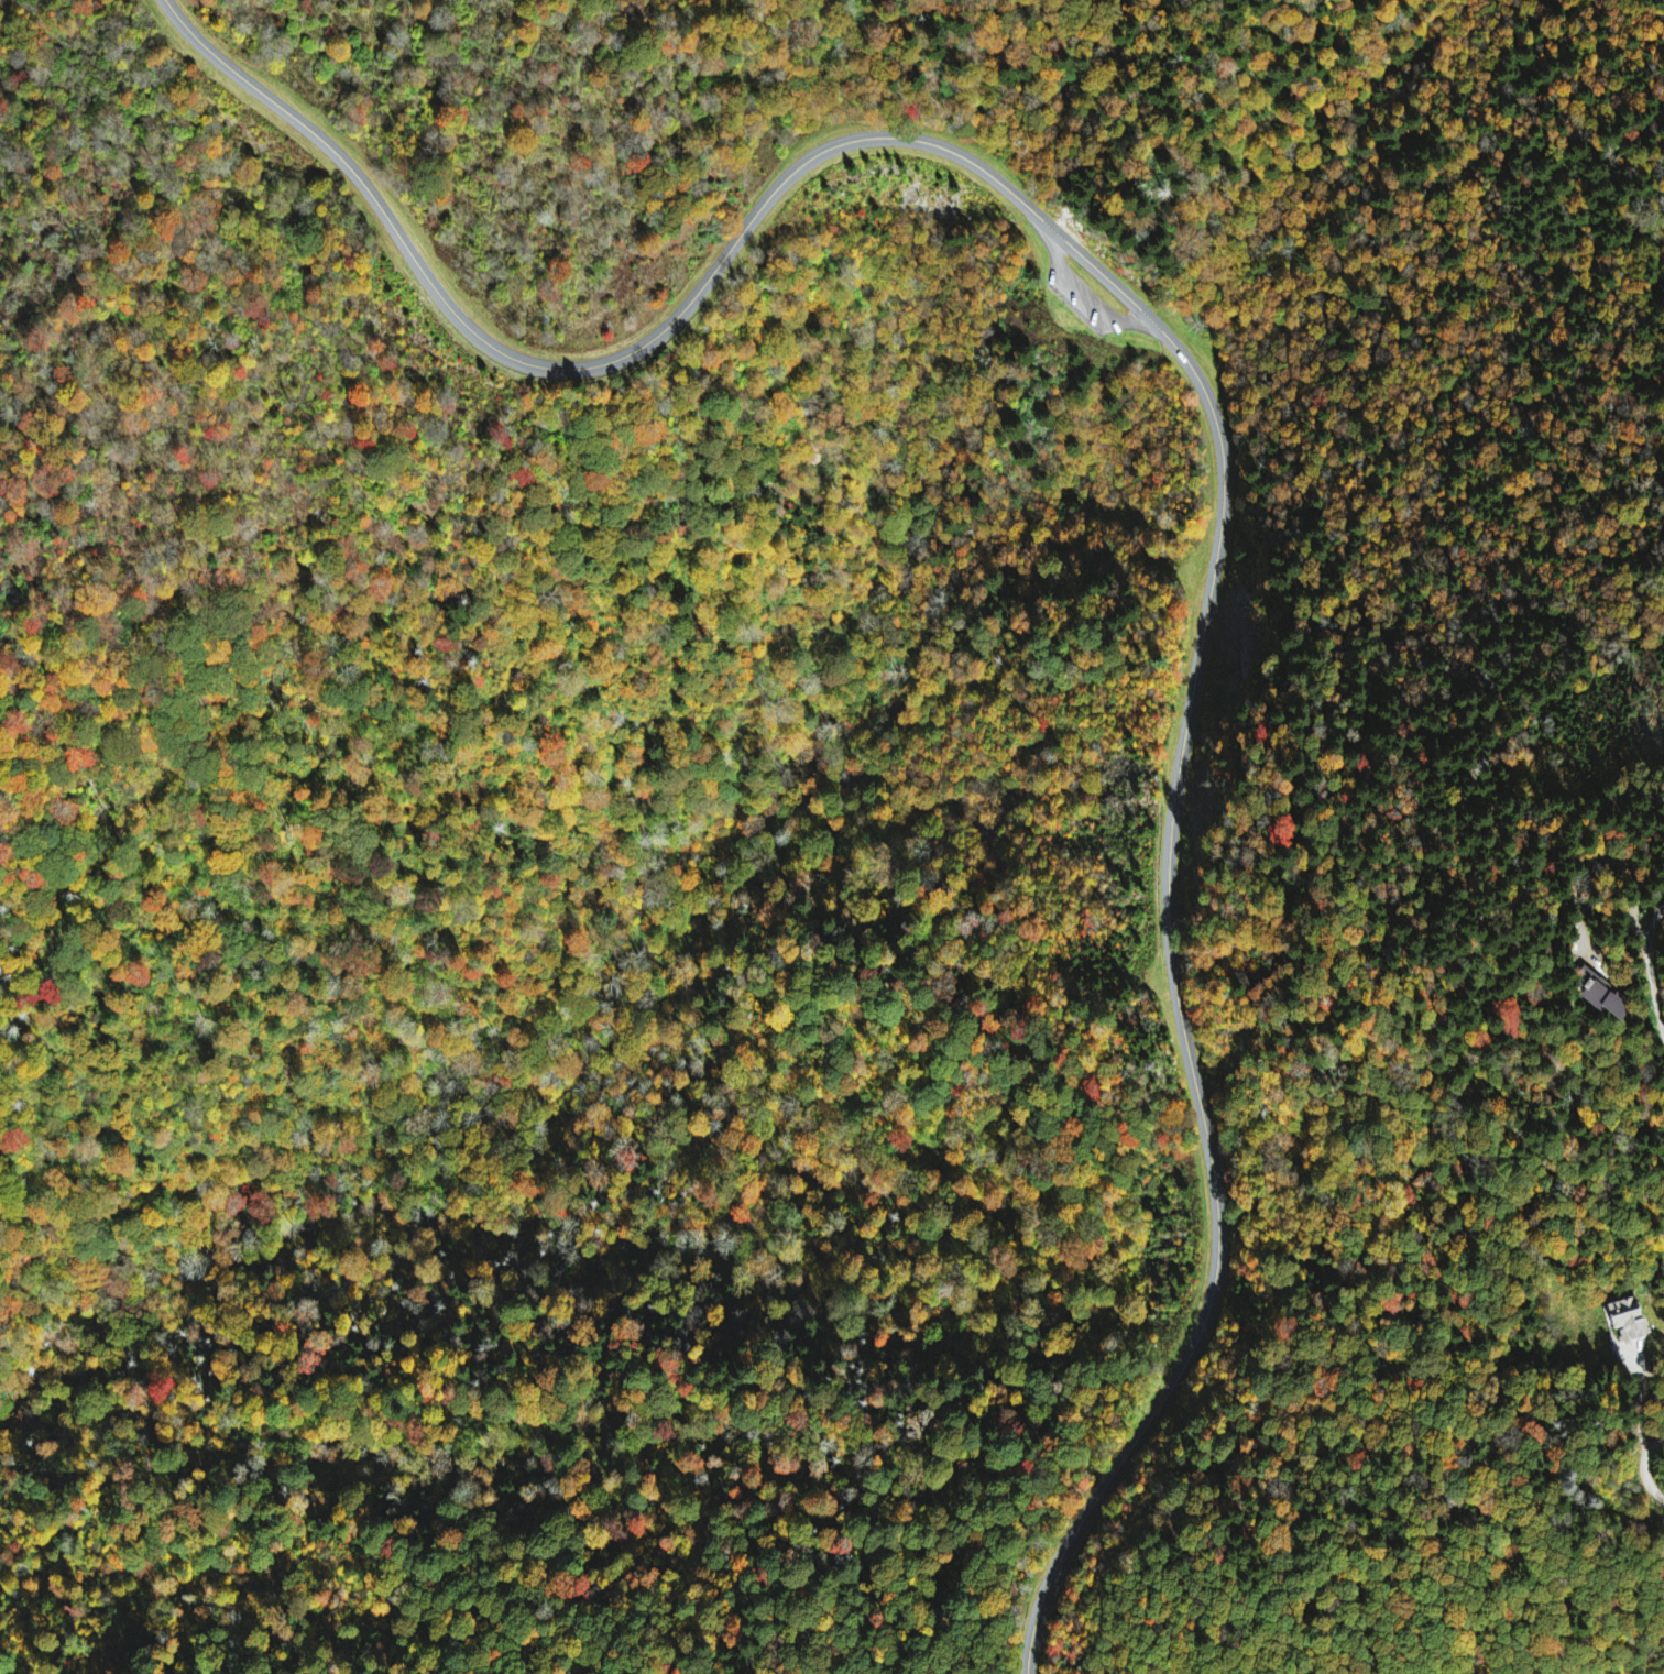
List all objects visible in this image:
road: (1140, 108)
road: (641, 109)
road: (1086, 294)
parking lot: (1084, 295)
road: (667, 327)
road: (1651, 967)
building: (1607, 1003)
road: (1184, 1025)
building: (1629, 1321)
road: (1645, 1466)

